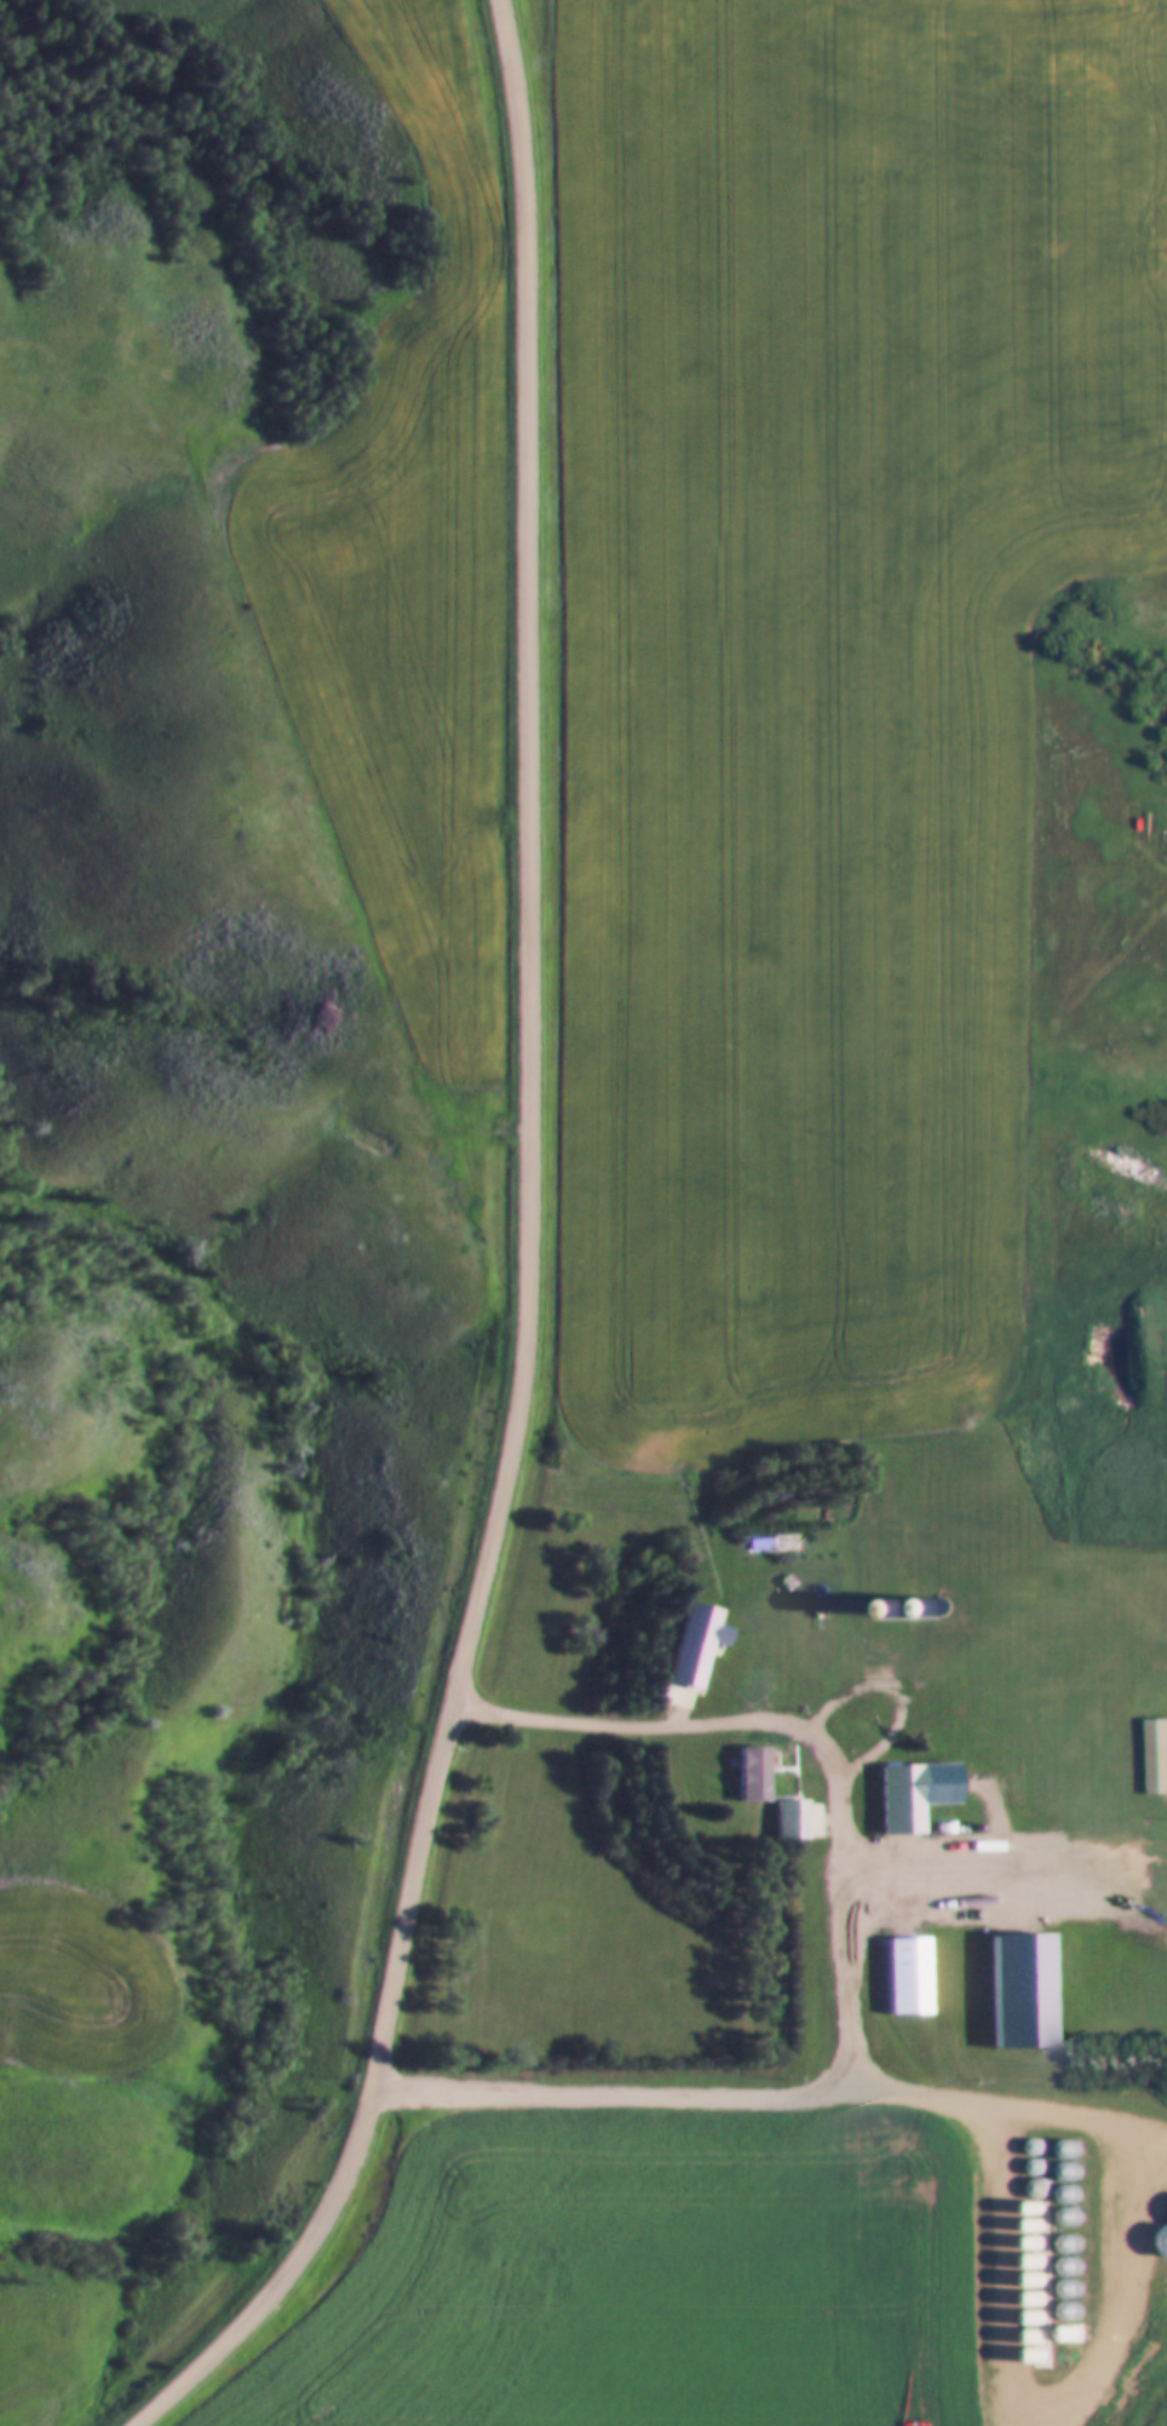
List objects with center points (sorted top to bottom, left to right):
road: (528, 1042)
building: (898, 1589)
building: (694, 1645)
building: (1157, 1758)
building: (764, 1765)
building: (897, 1799)
building: (797, 1821)
road: (844, 1967)
building: (903, 1976)
building: (1016, 1991)
road: (1008, 2203)
road: (288, 2270)

